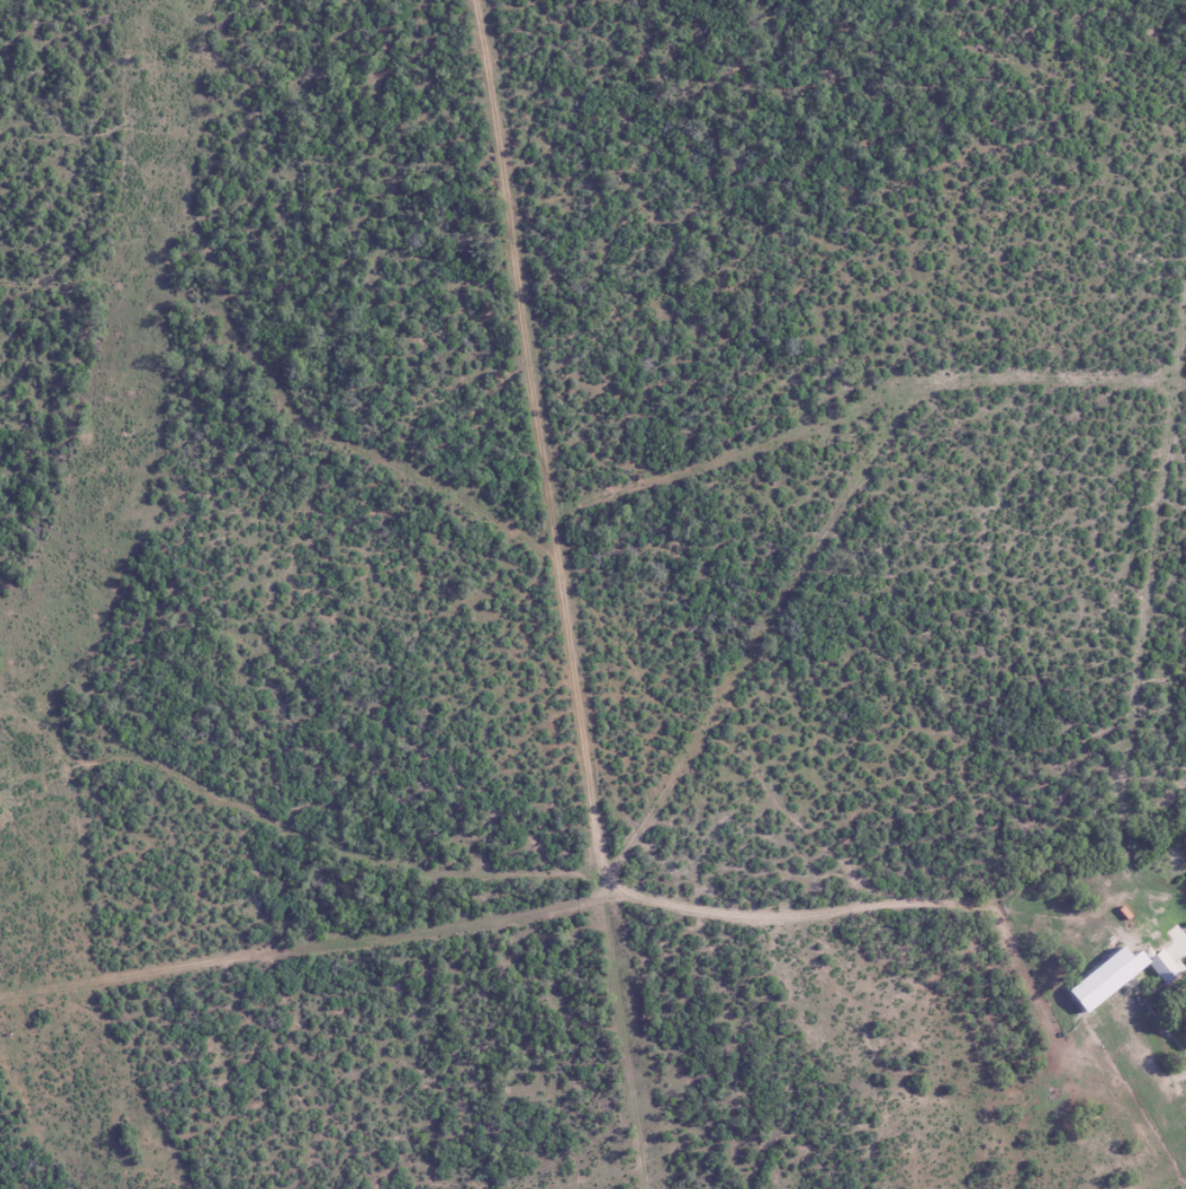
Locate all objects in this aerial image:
building: (1161, 967)
building: (1185, 998)
road: (1173, 1000)

